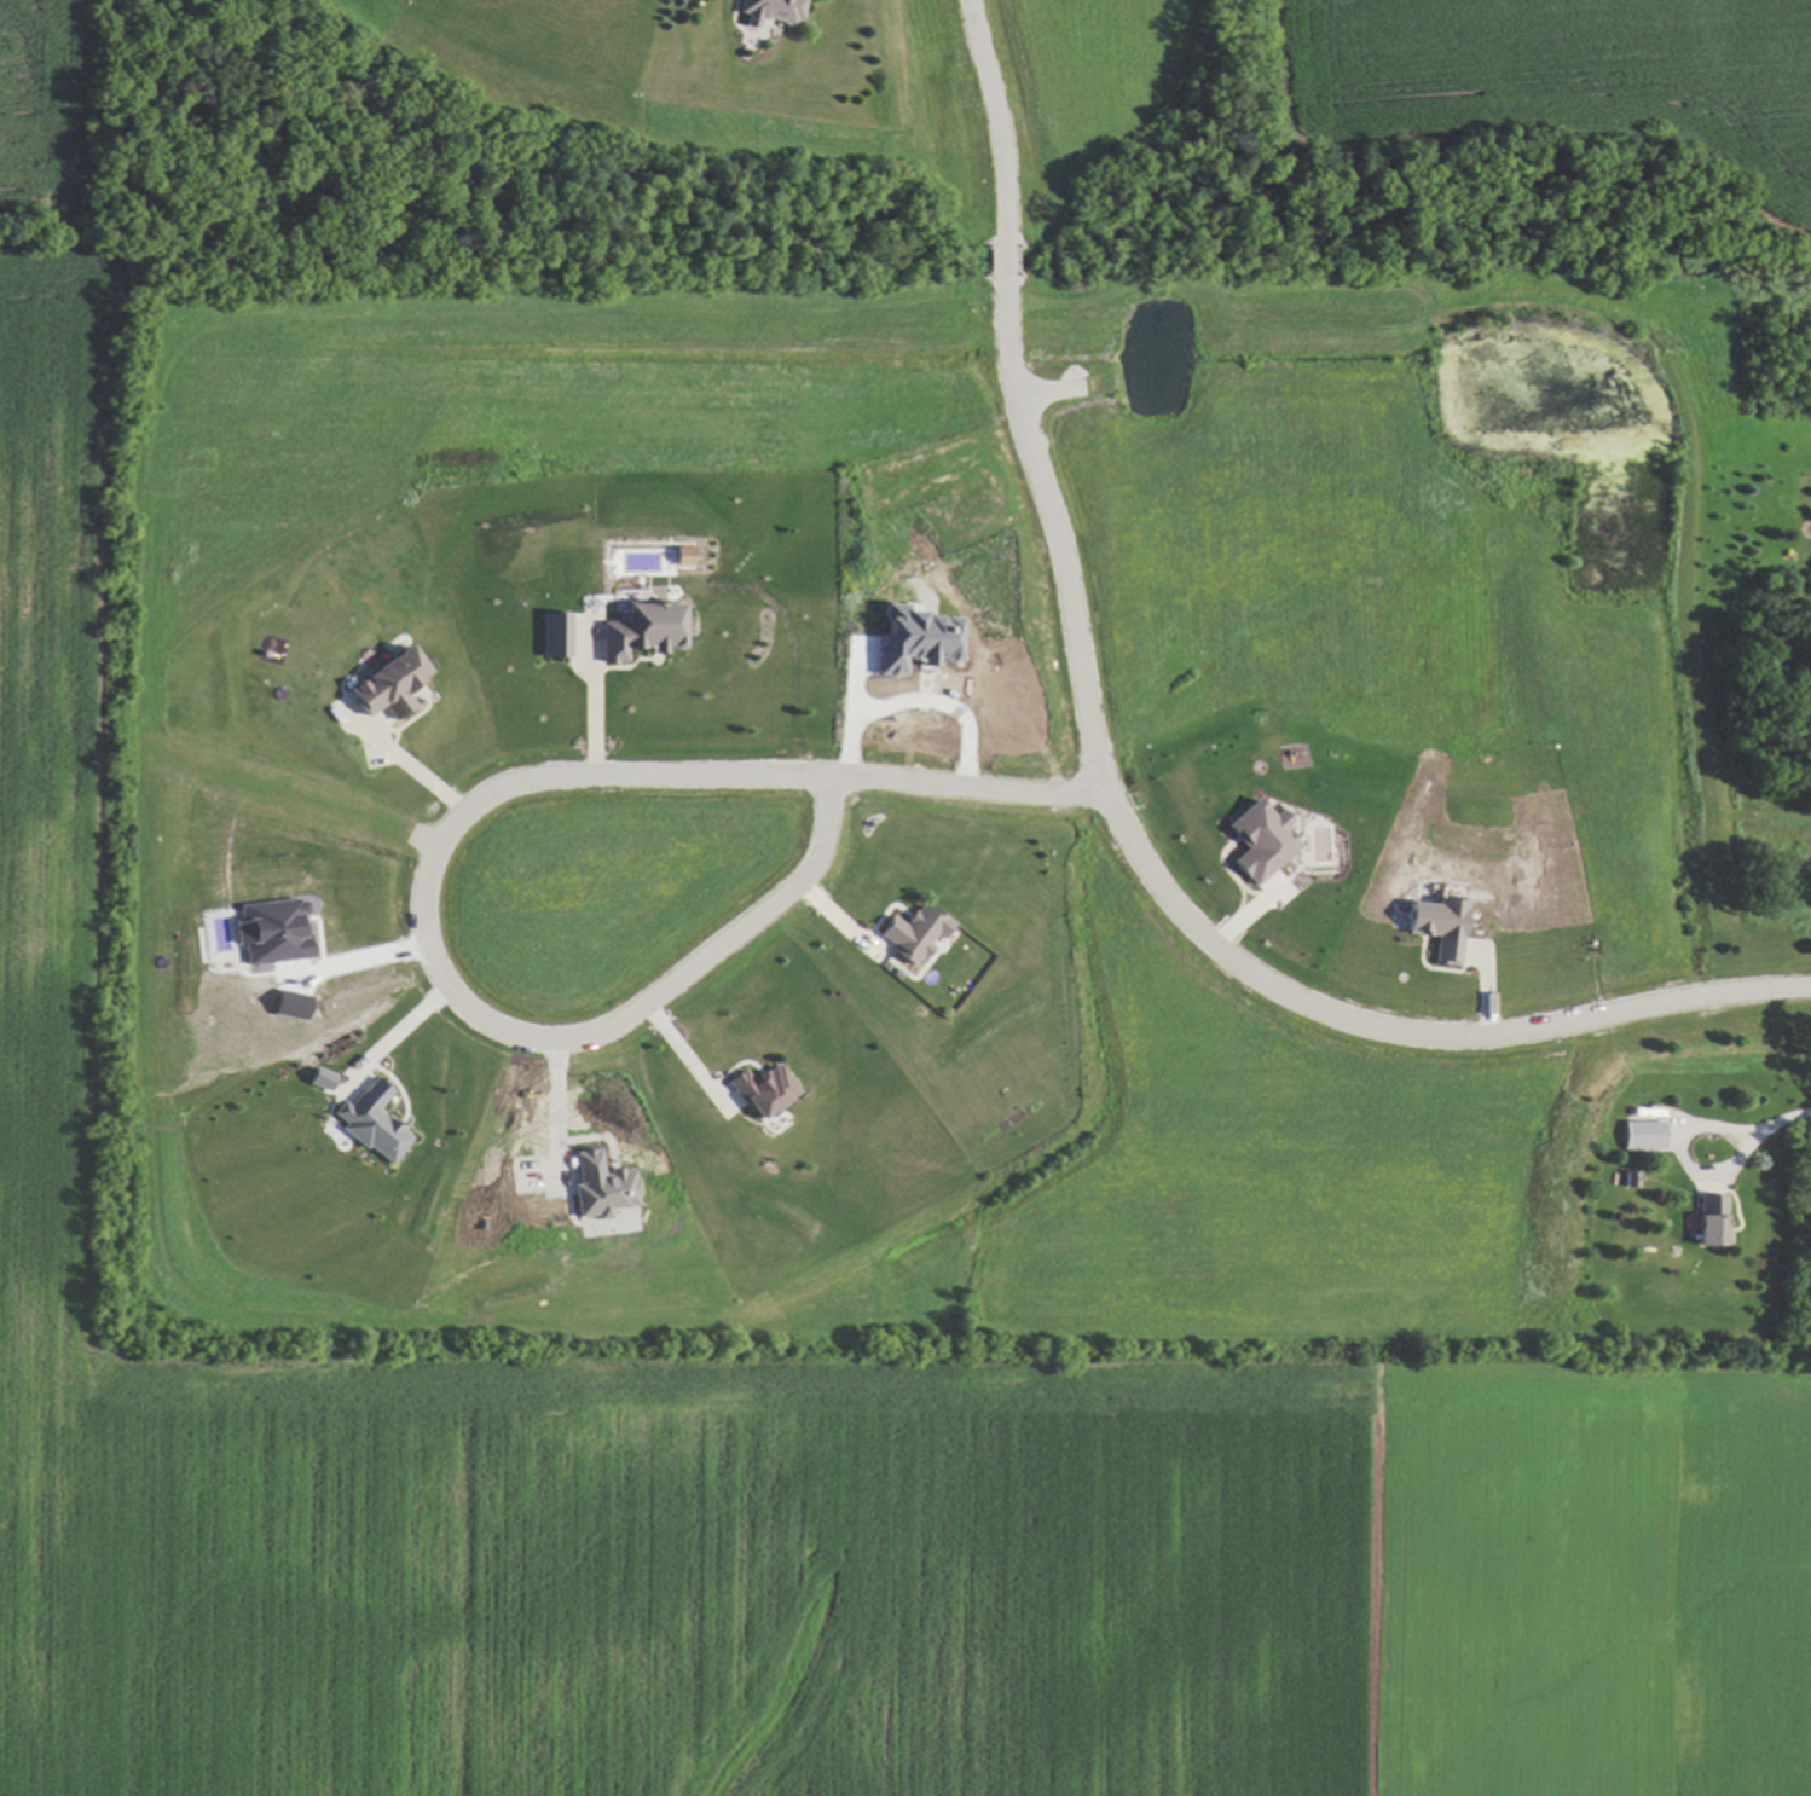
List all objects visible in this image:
building: (769, 11)
crop: (1550, 74)
building: (681, 555)
building: (643, 628)
building: (554, 633)
building: (910, 638)
building: (386, 684)
road: (594, 694)
road: (944, 701)
road: (851, 708)
road: (410, 766)
road: (1109, 793)
road: (440, 840)
building: (1259, 840)
building: (1436, 926)
building: (272, 931)
building: (912, 932)
road: (343, 963)
road: (398, 1033)
road: (683, 1054)
building: (762, 1089)
road: (559, 1111)
building: (370, 1122)
road: (1772, 1126)
building: (1642, 1134)
building: (598, 1184)
building: (1711, 1222)
crop: (874, 1432)

